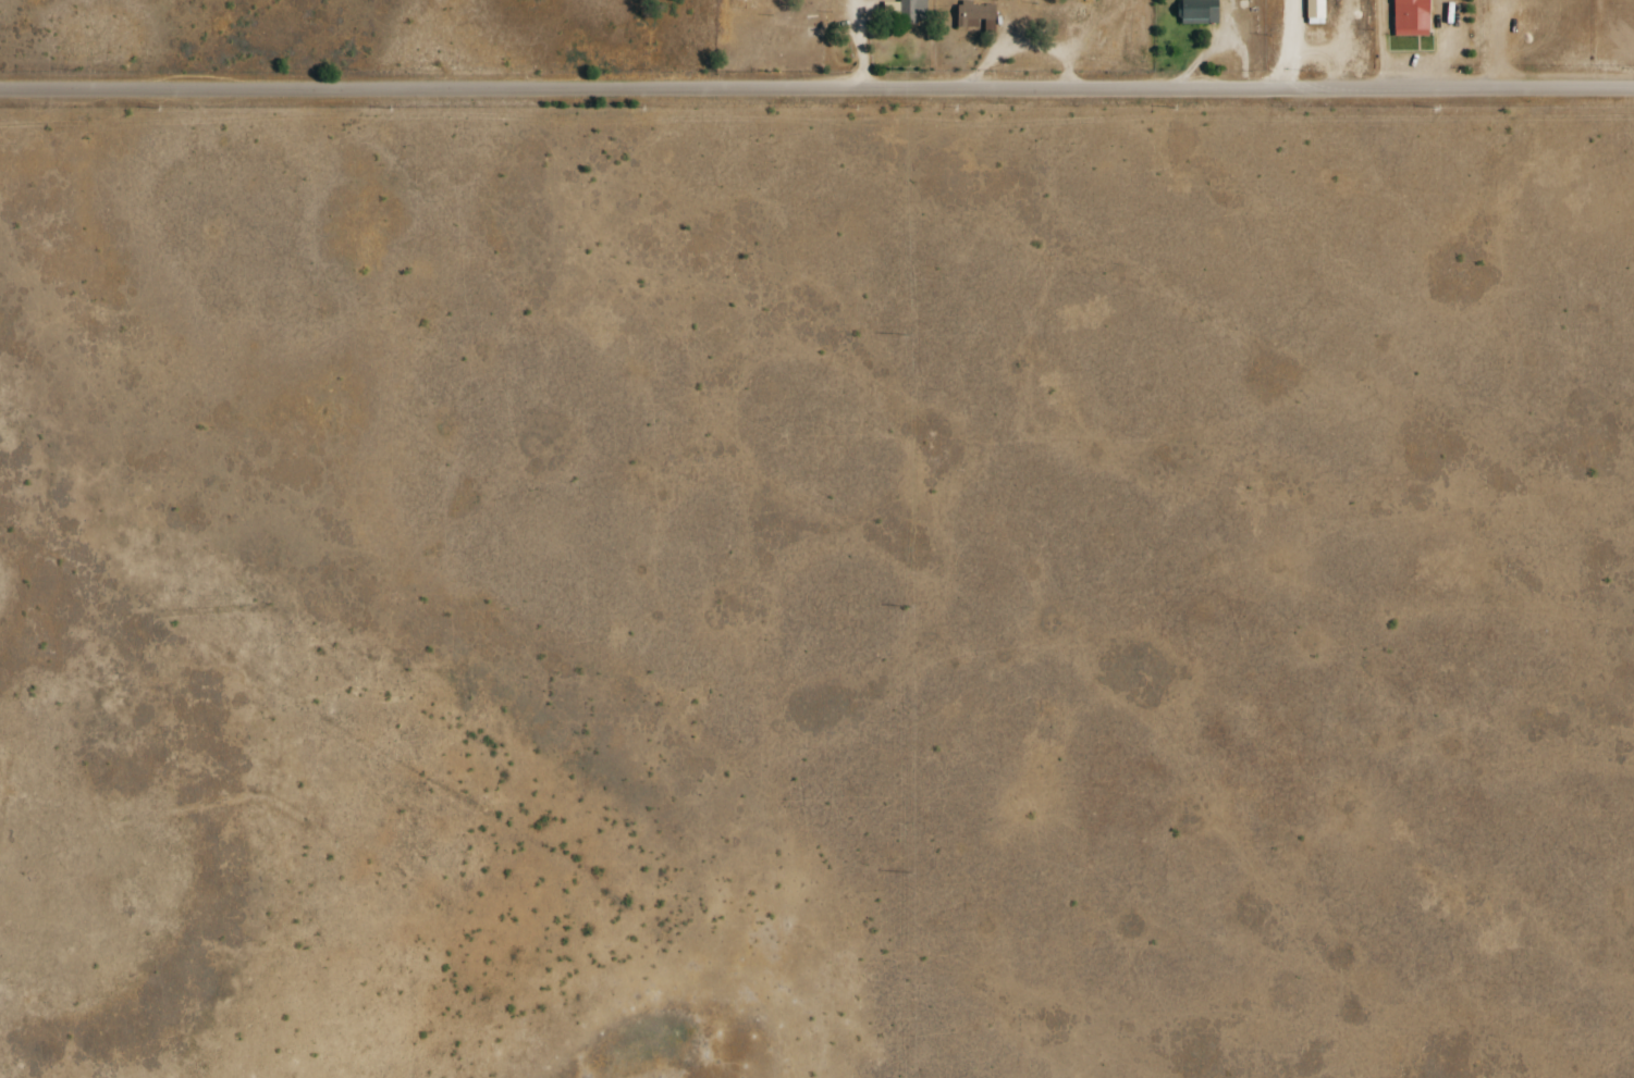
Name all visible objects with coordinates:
building: (1314, 9)
building: (912, 10)
building: (1199, 12)
building: (1410, 17)
road: (895, 90)
road: (77, 91)

